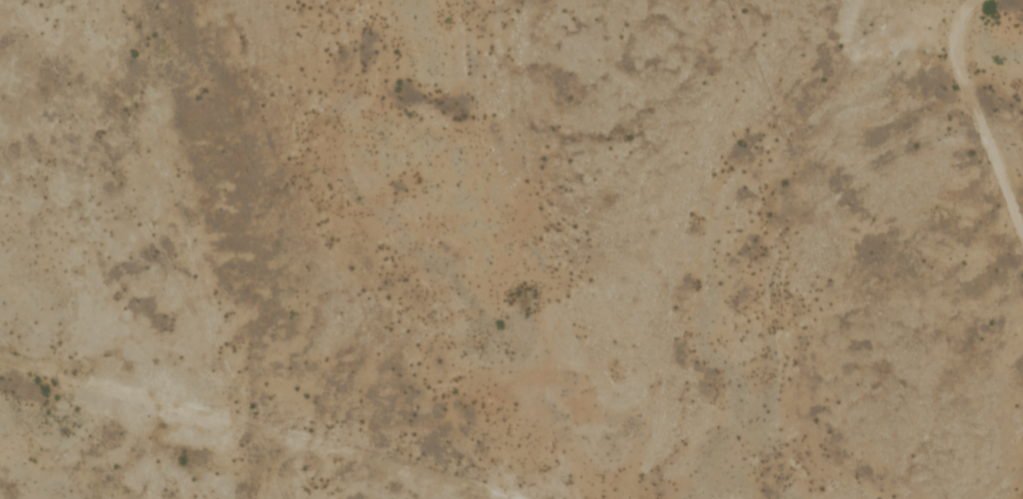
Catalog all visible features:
road: (974, 116)

